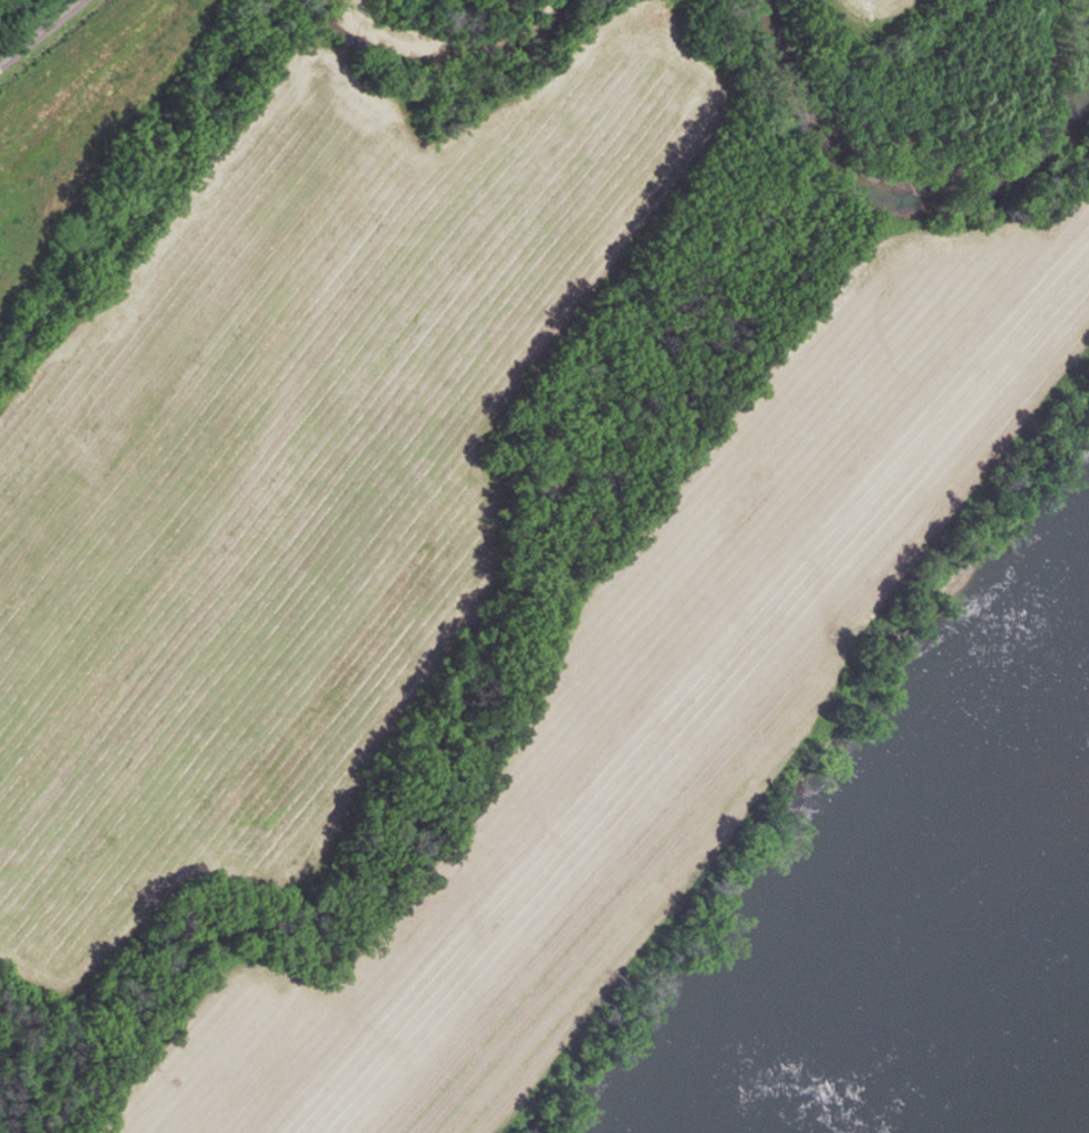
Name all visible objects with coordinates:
crop: (868, 19)
road: (38, 32)
river: (1033, 1083)

